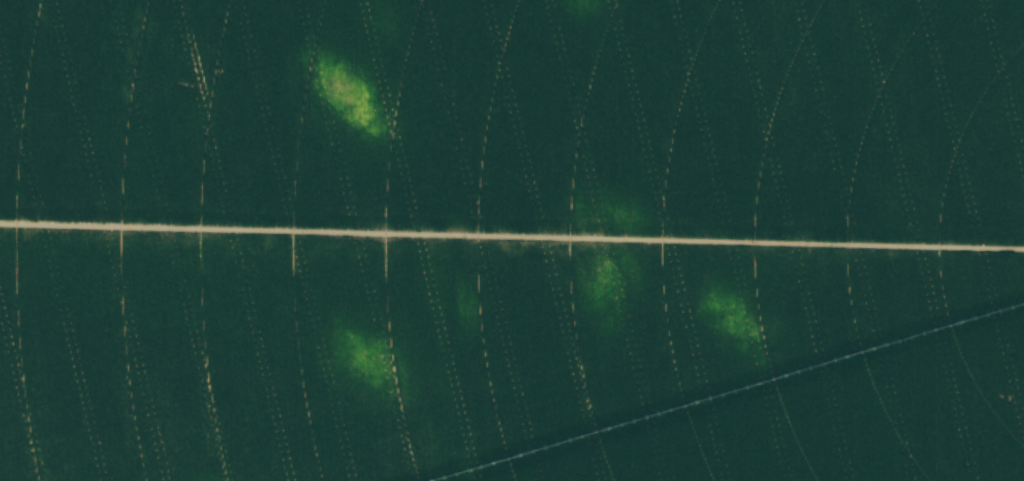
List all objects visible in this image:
crop: (512, 240)

